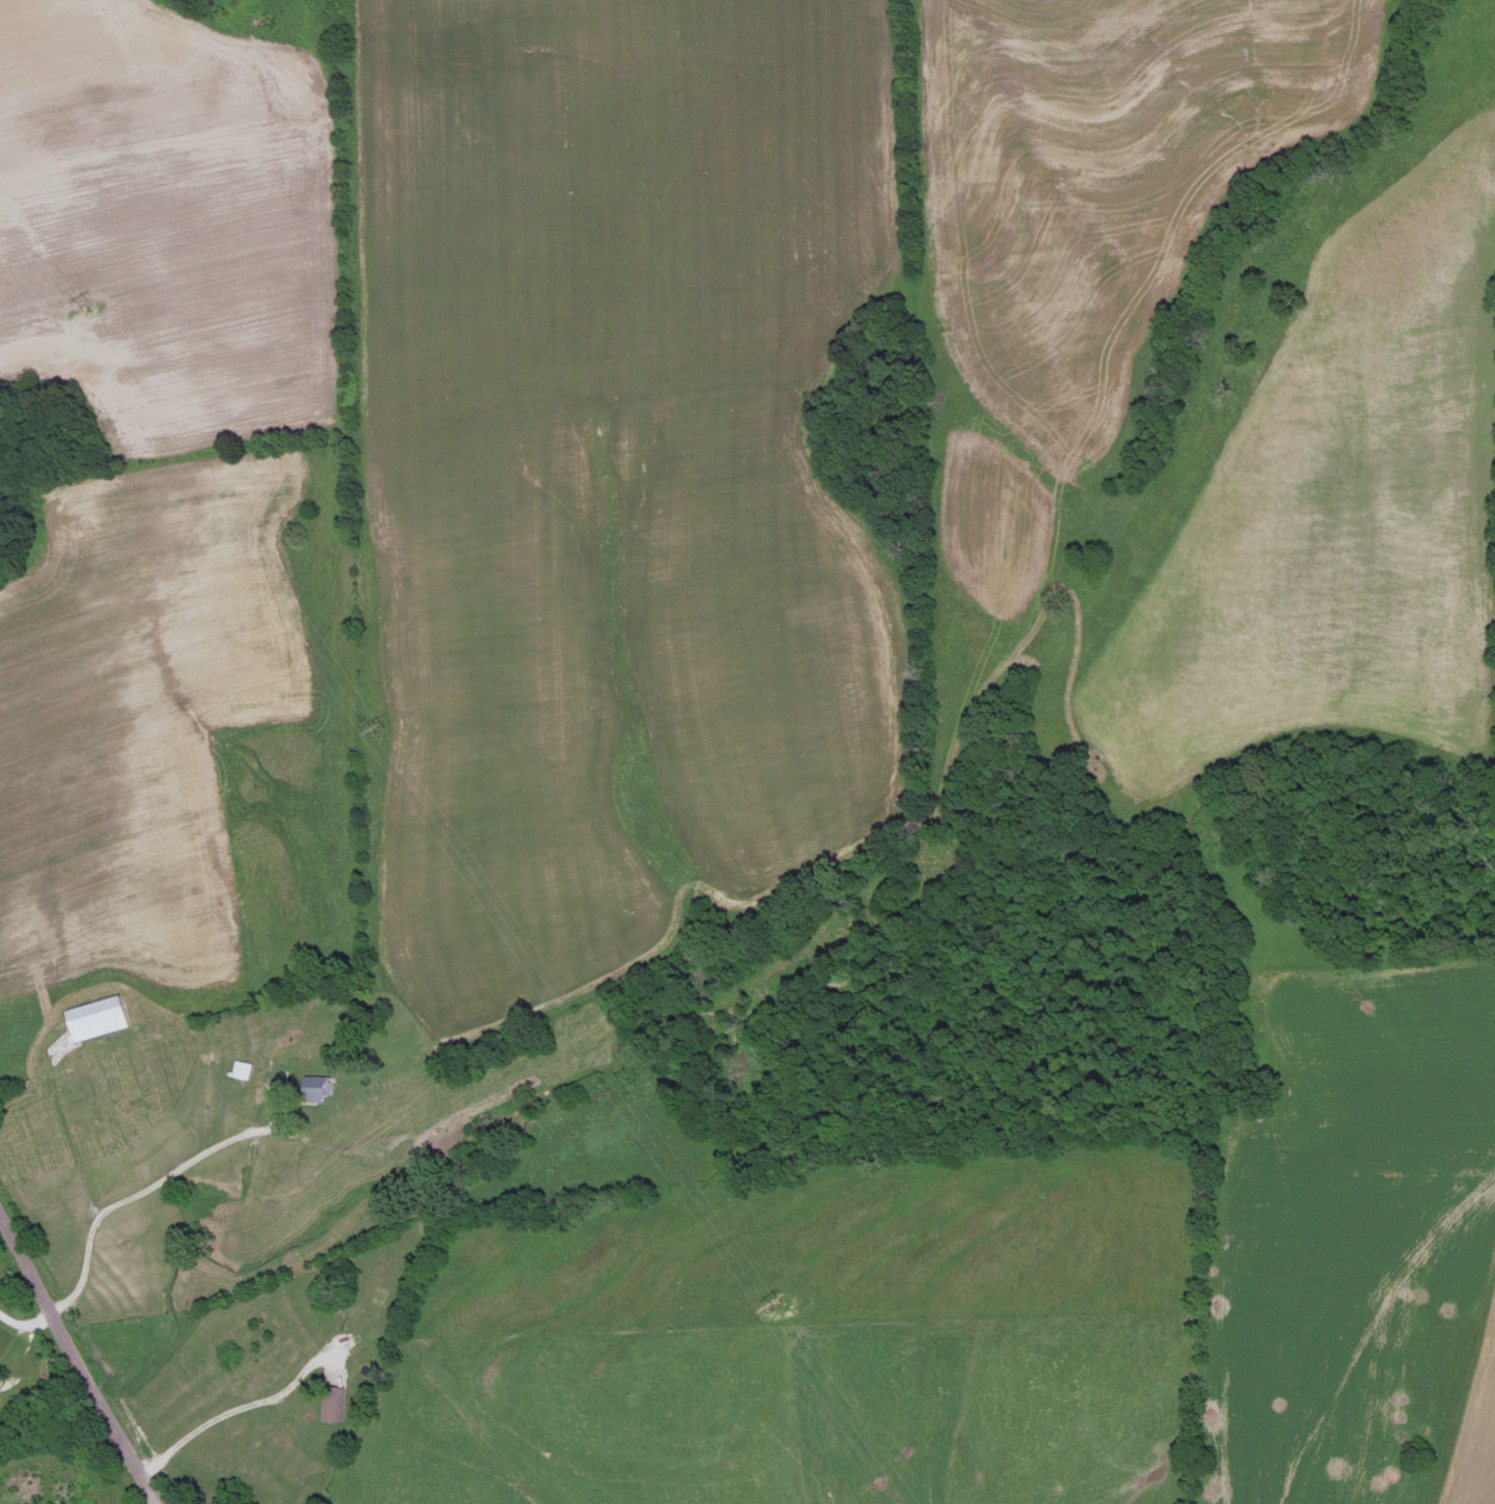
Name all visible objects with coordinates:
building: (95, 1016)
building: (236, 1067)
road: (133, 1189)
road: (24, 1320)
road: (76, 1361)
building: (330, 1402)
road: (232, 1405)

